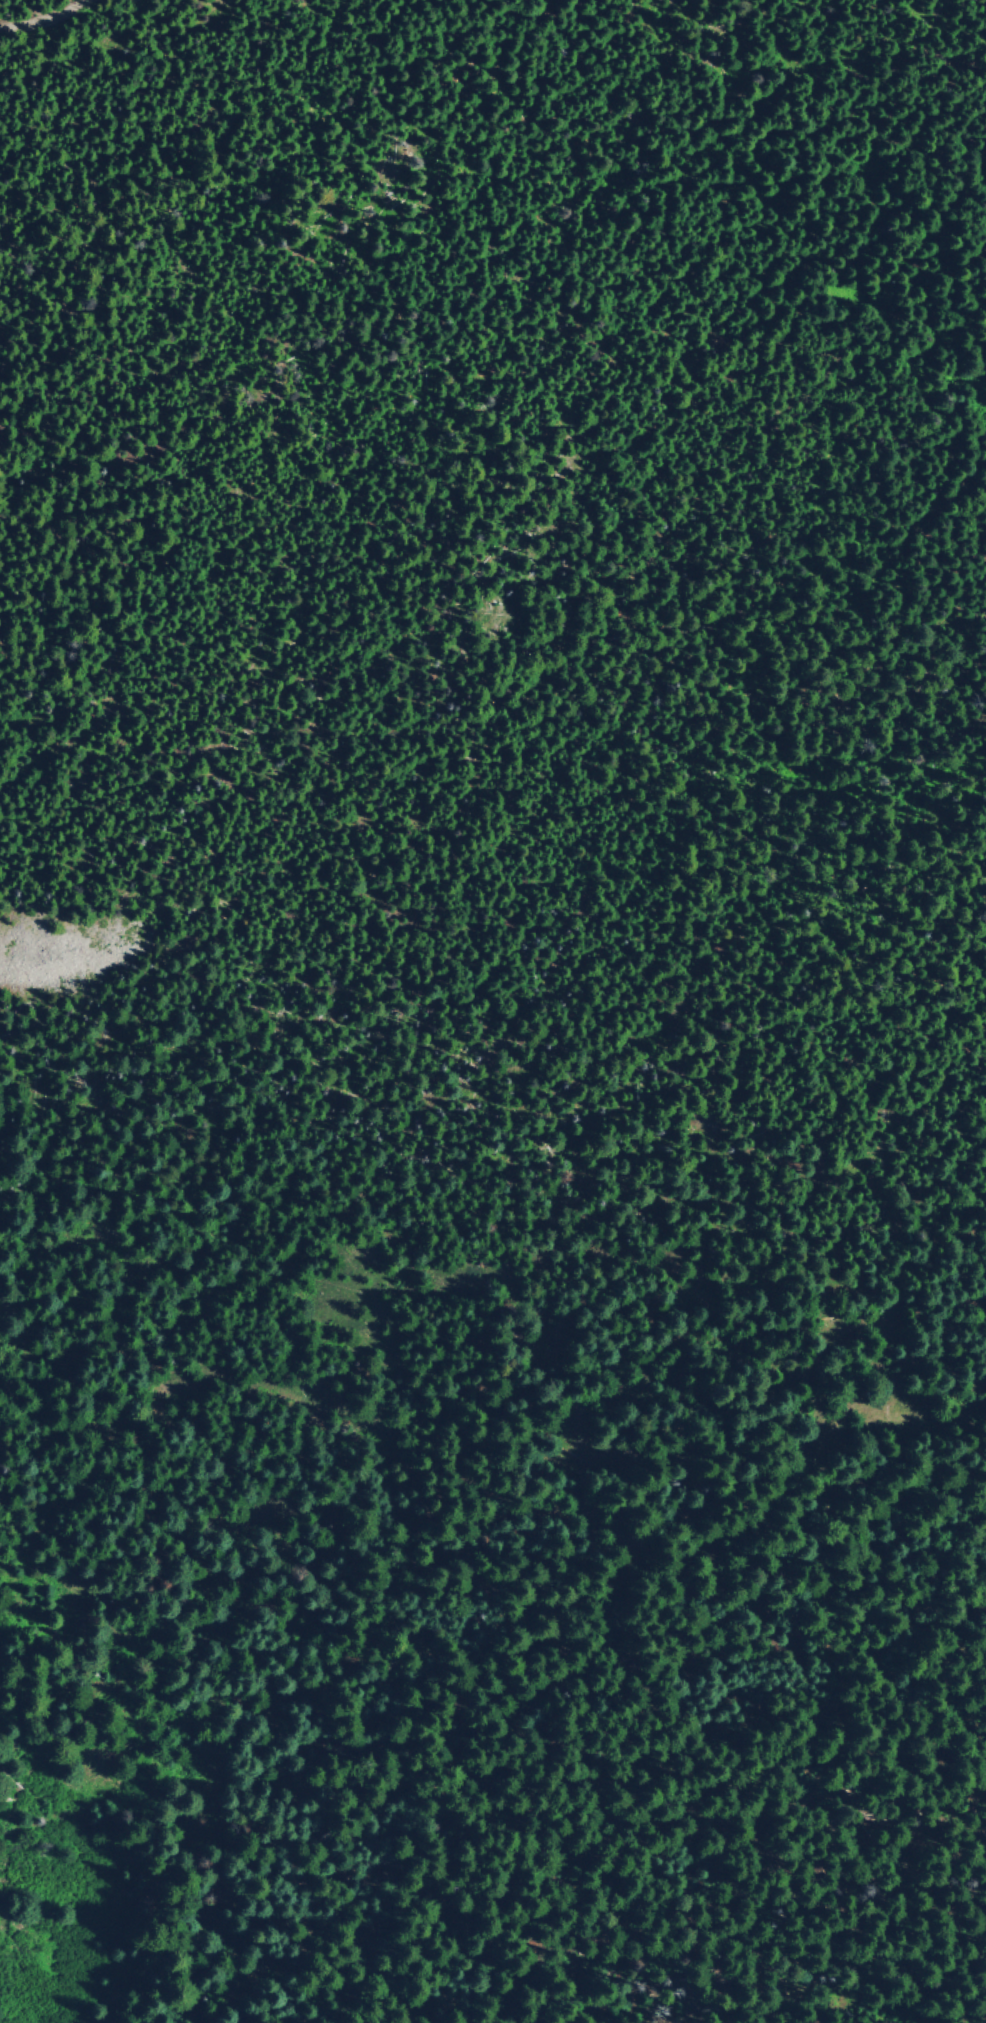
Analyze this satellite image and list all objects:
road: (49, 15)
road: (881, 388)

